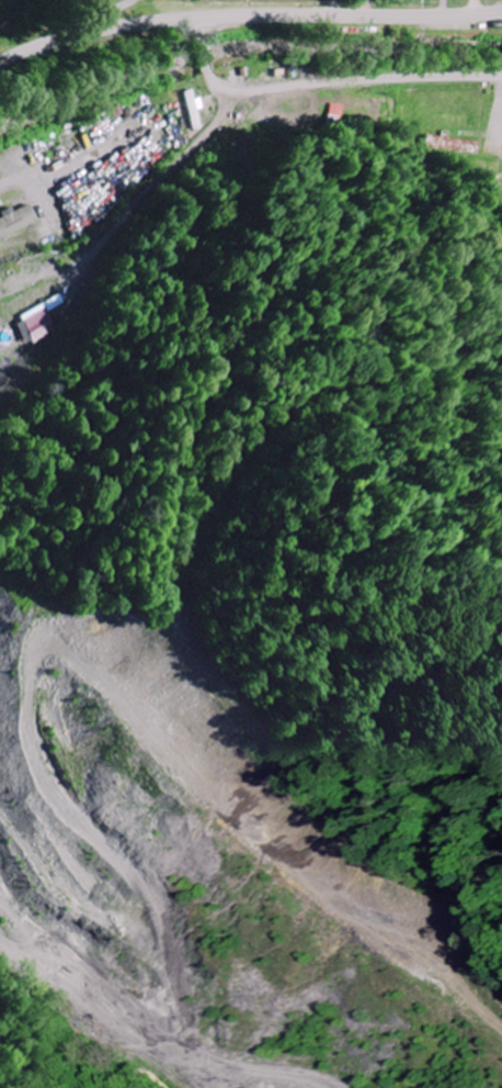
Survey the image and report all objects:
road: (474, 7)
road: (335, 8)
road: (106, 12)
road: (248, 15)
road: (321, 87)
building: (195, 108)
building: (338, 112)
building: (457, 143)
building: (15, 220)
building: (39, 322)

